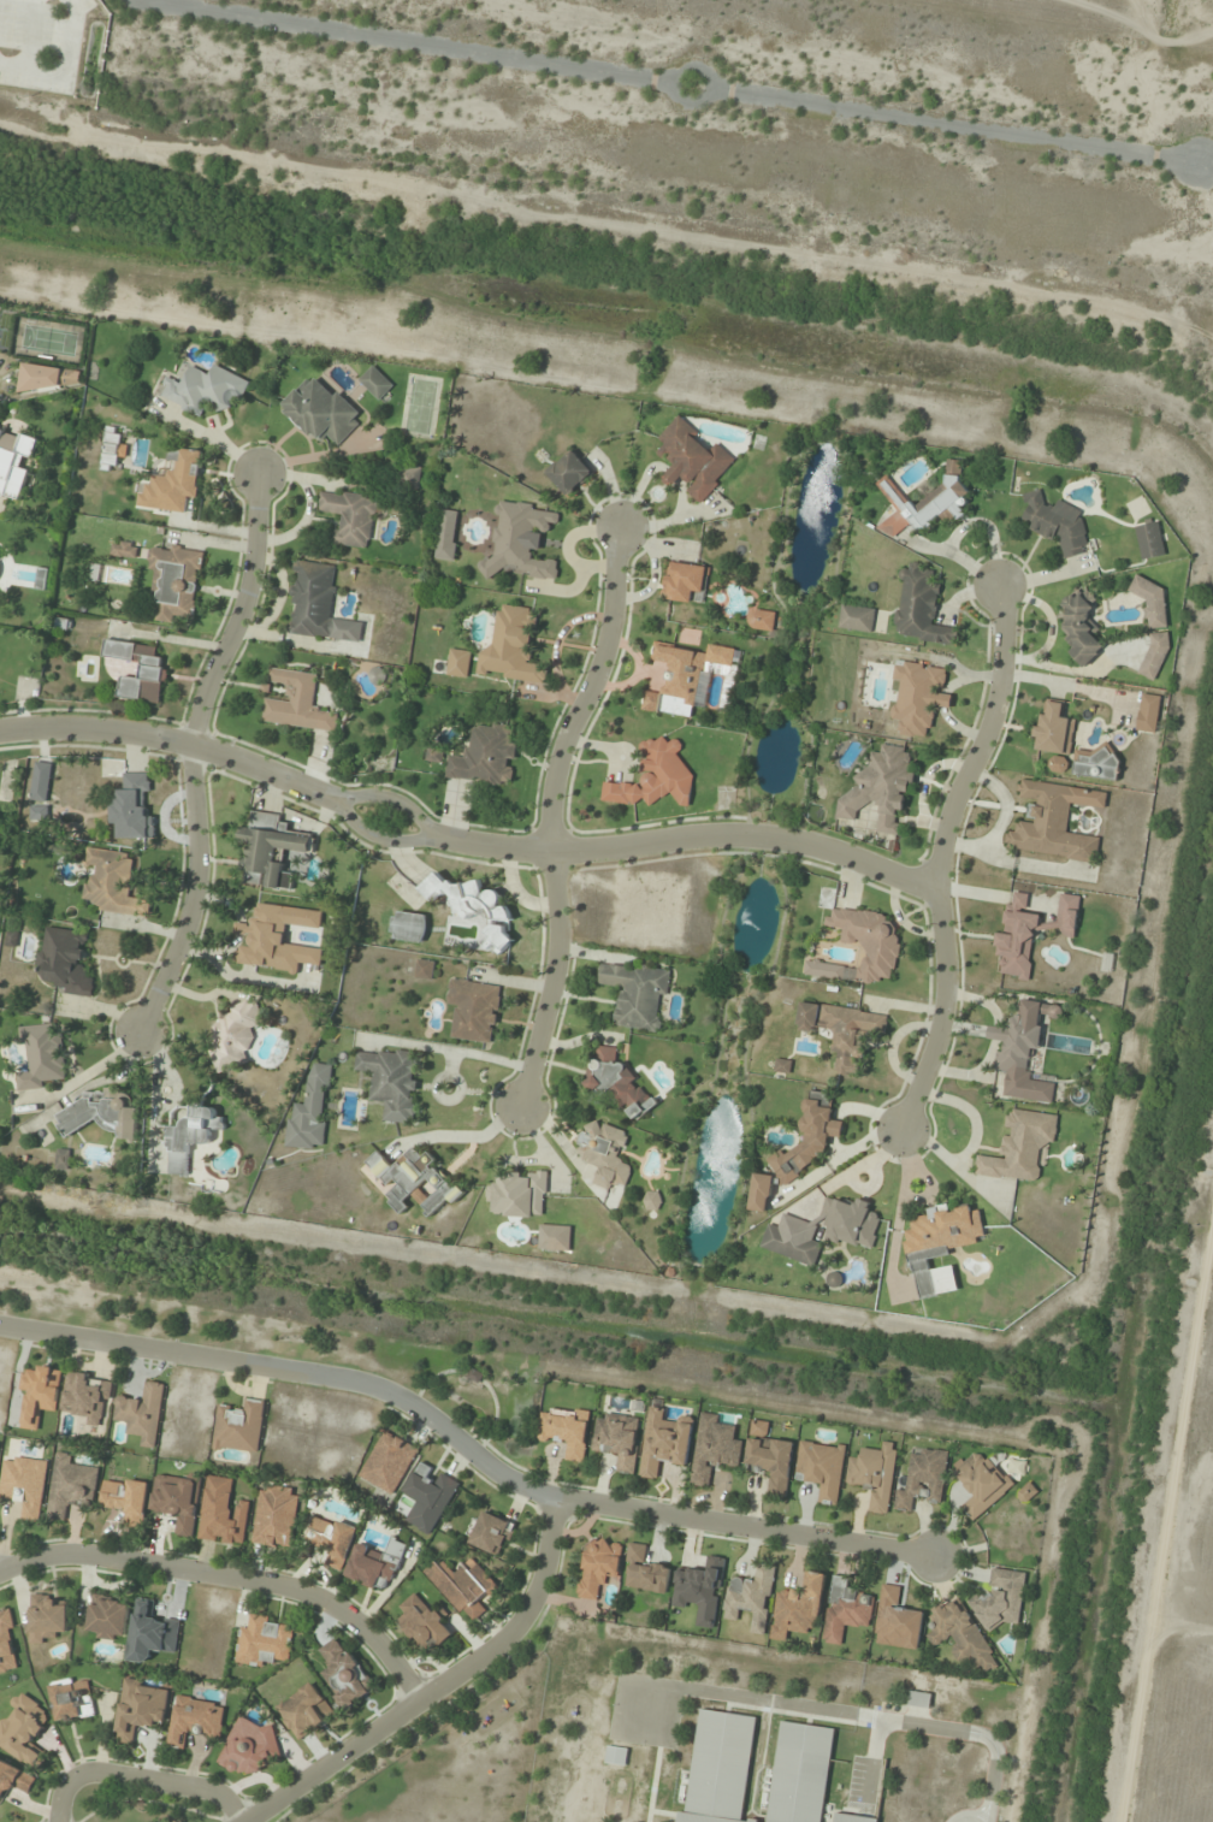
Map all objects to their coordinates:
road: (671, 82)
building: (51, 378)
building: (375, 383)
building: (203, 389)
building: (321, 412)
building: (112, 448)
building: (693, 460)
building: (14, 462)
building: (569, 472)
building: (409, 477)
building: (172, 481)
building: (888, 489)
building: (936, 501)
building: (350, 516)
building: (1057, 523)
building: (446, 534)
building: (520, 540)
building: (1149, 540)
building: (124, 549)
building: (176, 581)
building: (685, 581)
building: (1152, 602)
building: (318, 604)
building: (921, 608)
building: (857, 617)
building: (761, 620)
building: (1079, 627)
building: (511, 647)
building: (1154, 656)
building: (458, 663)
building: (153, 669)
building: (697, 673)
building: (918, 697)
building: (297, 703)
building: (1148, 712)
building: (1054, 728)
road: (191, 753)
building: (485, 756)
building: (1095, 762)
building: (656, 775)
building: (41, 781)
building: (880, 792)
building: (132, 809)
building: (39, 812)
road: (546, 814)
building: (1054, 821)
road: (463, 841)
building: (271, 850)
road: (936, 853)
building: (111, 882)
building: (477, 909)
building: (409, 927)
building: (1030, 933)
building: (277, 937)
building: (868, 940)
building: (66, 962)
building: (425, 969)
building: (824, 970)
building: (637, 994)
building: (474, 1010)
building: (842, 1031)
building: (233, 1035)
building: (1023, 1052)
building: (42, 1055)
building: (391, 1082)
building: (617, 1083)
building: (310, 1112)
building: (103, 1114)
building: (193, 1134)
building: (1020, 1147)
building: (604, 1153)
building: (63, 1159)
building: (413, 1181)
building: (519, 1194)
building: (652, 1200)
building: (851, 1223)
building: (555, 1237)
building: (940, 1246)
building: (795, 1247)
building: (39, 1394)
building: (87, 1397)
building: (142, 1413)
building: (238, 1427)
building: (566, 1431)
building: (617, 1439)
building: (664, 1444)
road: (465, 1447)
building: (714, 1449)
building: (769, 1457)
building: (389, 1462)
building: (822, 1468)
building: (875, 1475)
building: (923, 1480)
building: (981, 1483)
building: (25, 1485)
building: (70, 1485)
building: (1026, 1493)
building: (428, 1497)
building: (126, 1498)
building: (177, 1499)
building: (221, 1513)
building: (276, 1516)
building: (490, 1533)
building: (332, 1539)
building: (377, 1564)
building: (598, 1566)
building: (645, 1572)
road: (231, 1576)
building: (465, 1586)
building: (751, 1597)
building: (1001, 1599)
building: (798, 1608)
building: (845, 1610)
building: (47, 1616)
building: (108, 1619)
building: (897, 1621)
building: (424, 1622)
building: (152, 1633)
building: (961, 1635)
building: (265, 1641)
building: (7, 1644)
building: (344, 1674)
road: (439, 1685)
building: (71, 1698)
building: (918, 1699)
building: (141, 1708)
building: (306, 1711)
building: (195, 1720)
building: (24, 1731)
building: (249, 1747)
building: (616, 1756)
building: (720, 1768)
building: (800, 1774)
road: (141, 1776)
building: (14, 1780)
building: (852, 1818)

